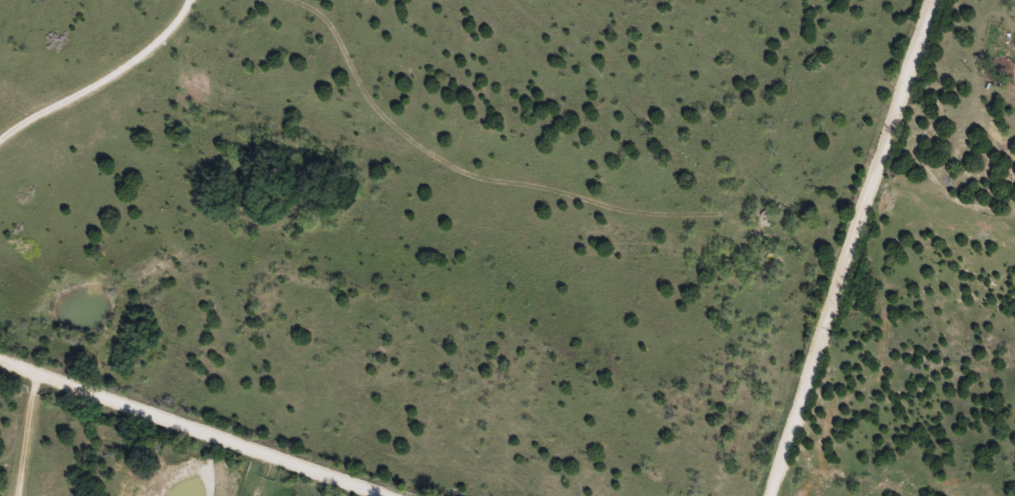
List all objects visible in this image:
road: (849, 248)
road: (186, 430)

